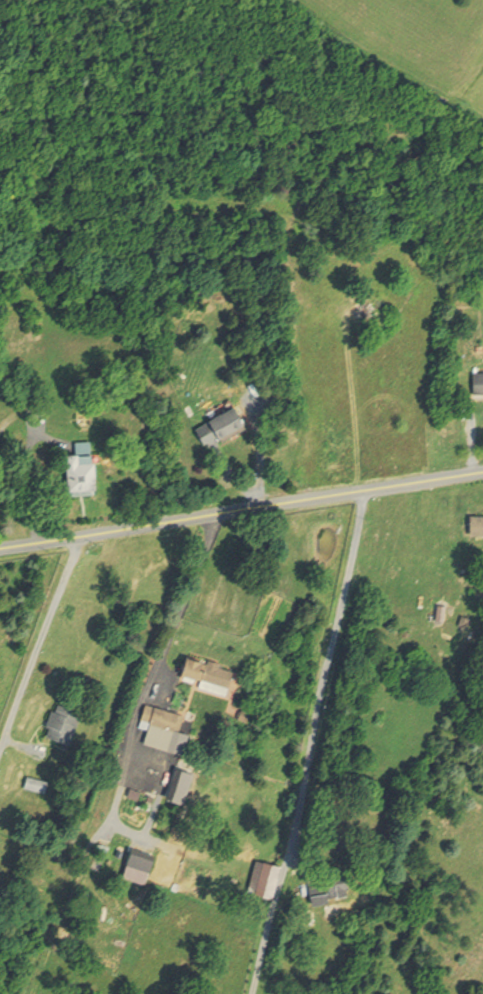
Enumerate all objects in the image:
road: (31, 484)
road: (241, 509)
road: (187, 598)
road: (40, 645)
road: (327, 743)

